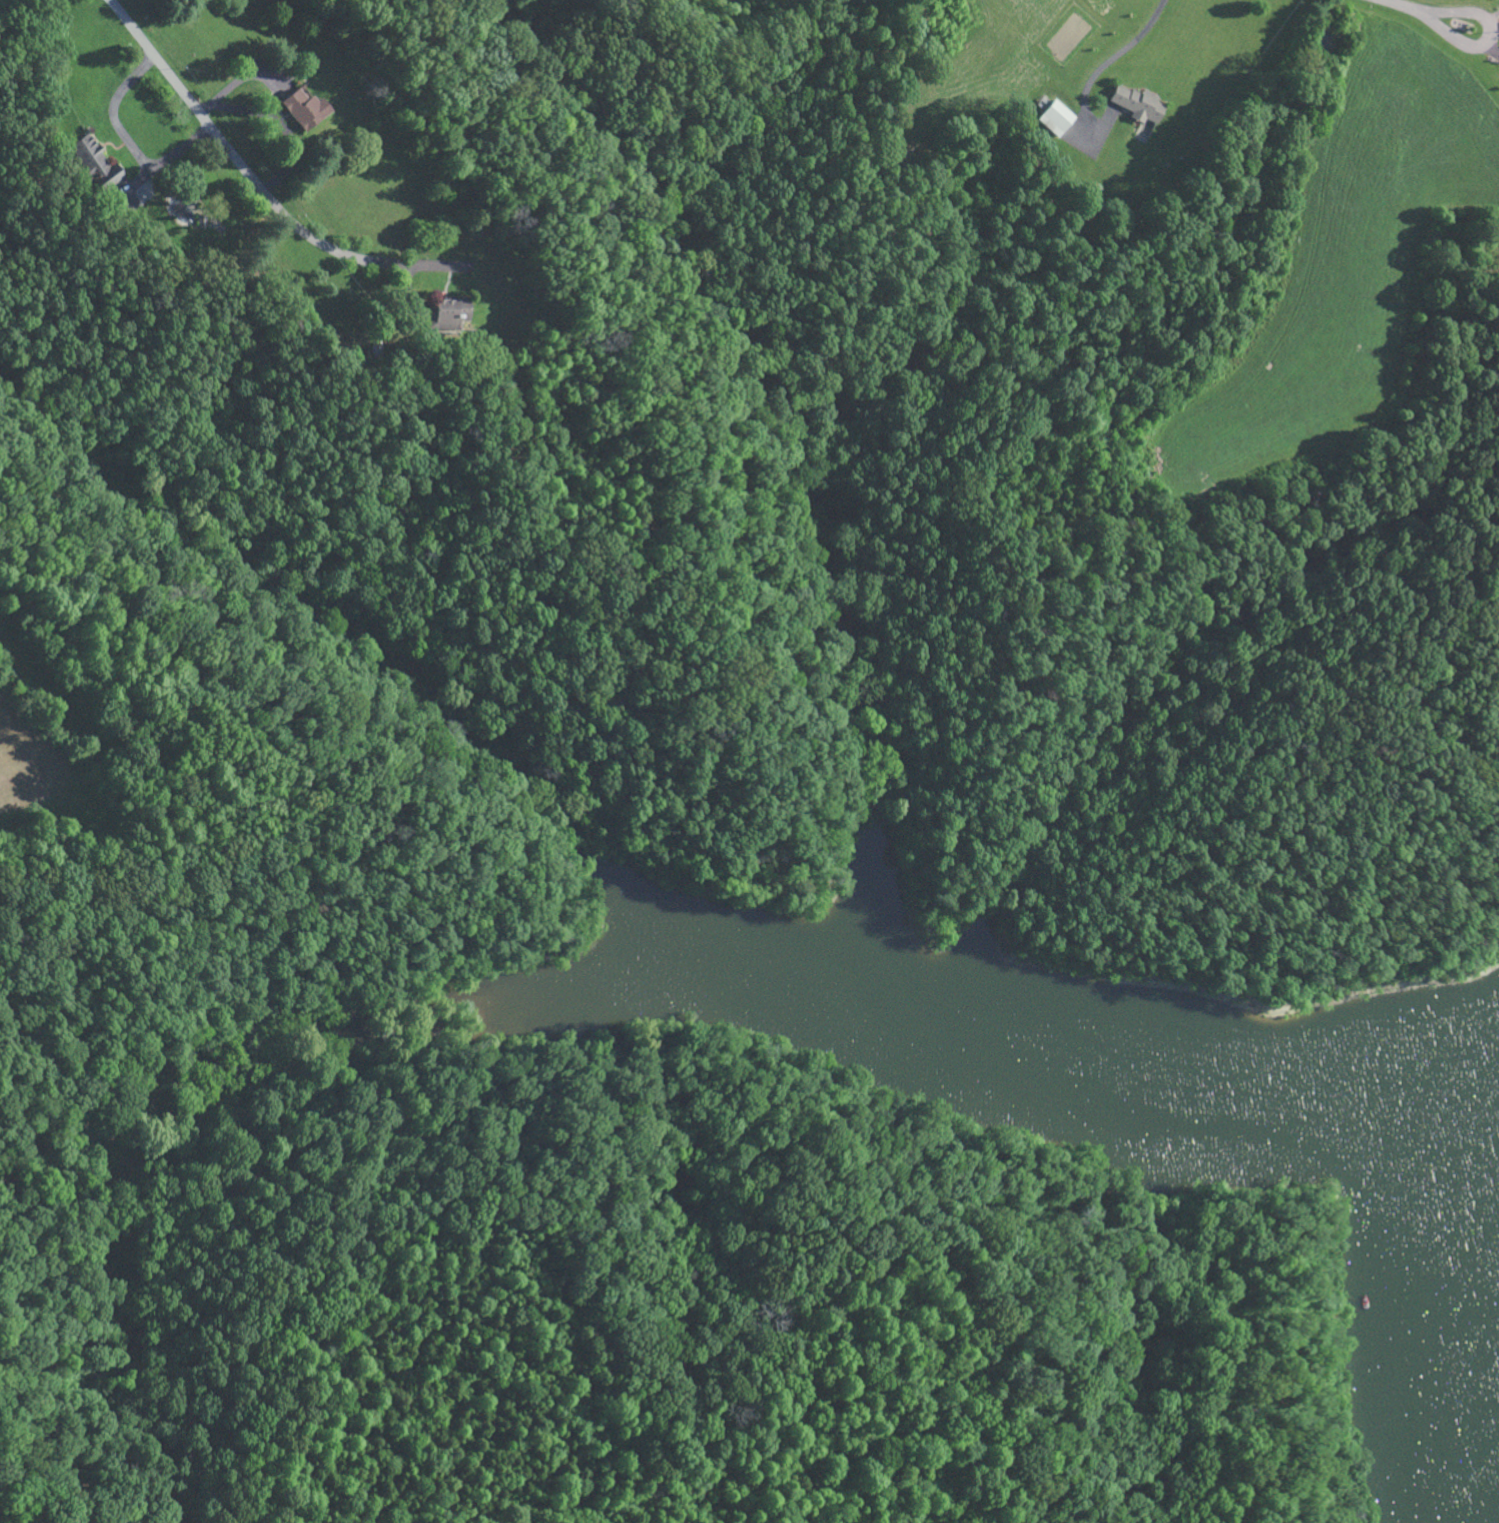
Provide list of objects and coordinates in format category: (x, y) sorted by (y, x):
road: (1402, 7)
road: (1462, 40)
building: (1134, 102)
building: (305, 108)
building: (1053, 116)
building: (95, 161)
road: (251, 174)
building: (448, 312)
park: (783, 1317)

